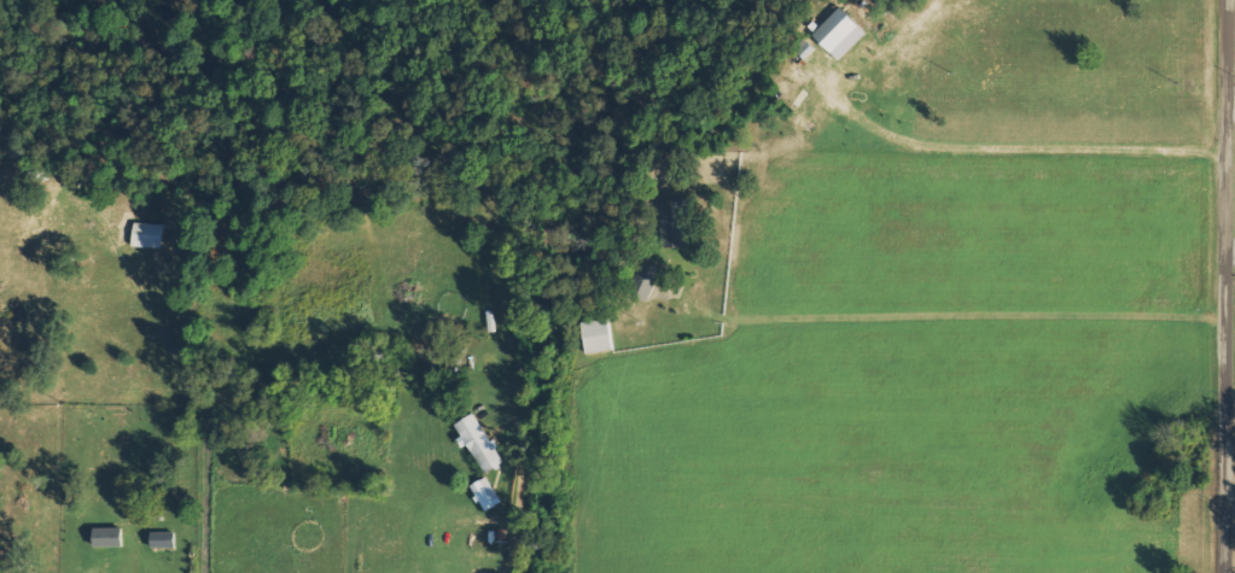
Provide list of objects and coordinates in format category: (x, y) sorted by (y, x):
building: (841, 31)
building: (675, 222)
building: (150, 234)
building: (652, 277)
road: (1230, 286)
building: (601, 335)
building: (482, 443)
building: (111, 537)
building: (164, 539)

